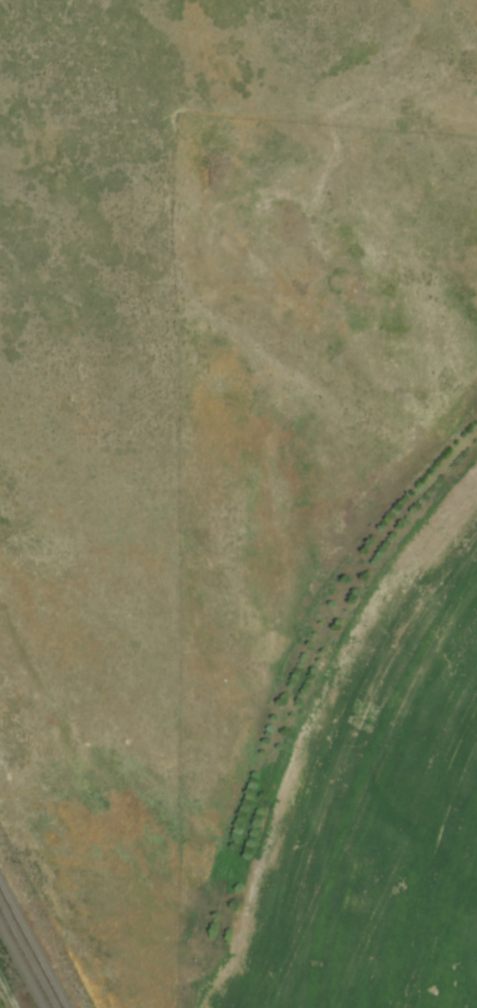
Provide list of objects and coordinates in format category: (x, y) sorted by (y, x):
crop: (378, 798)
railway: (30, 948)
railway: (25, 958)

